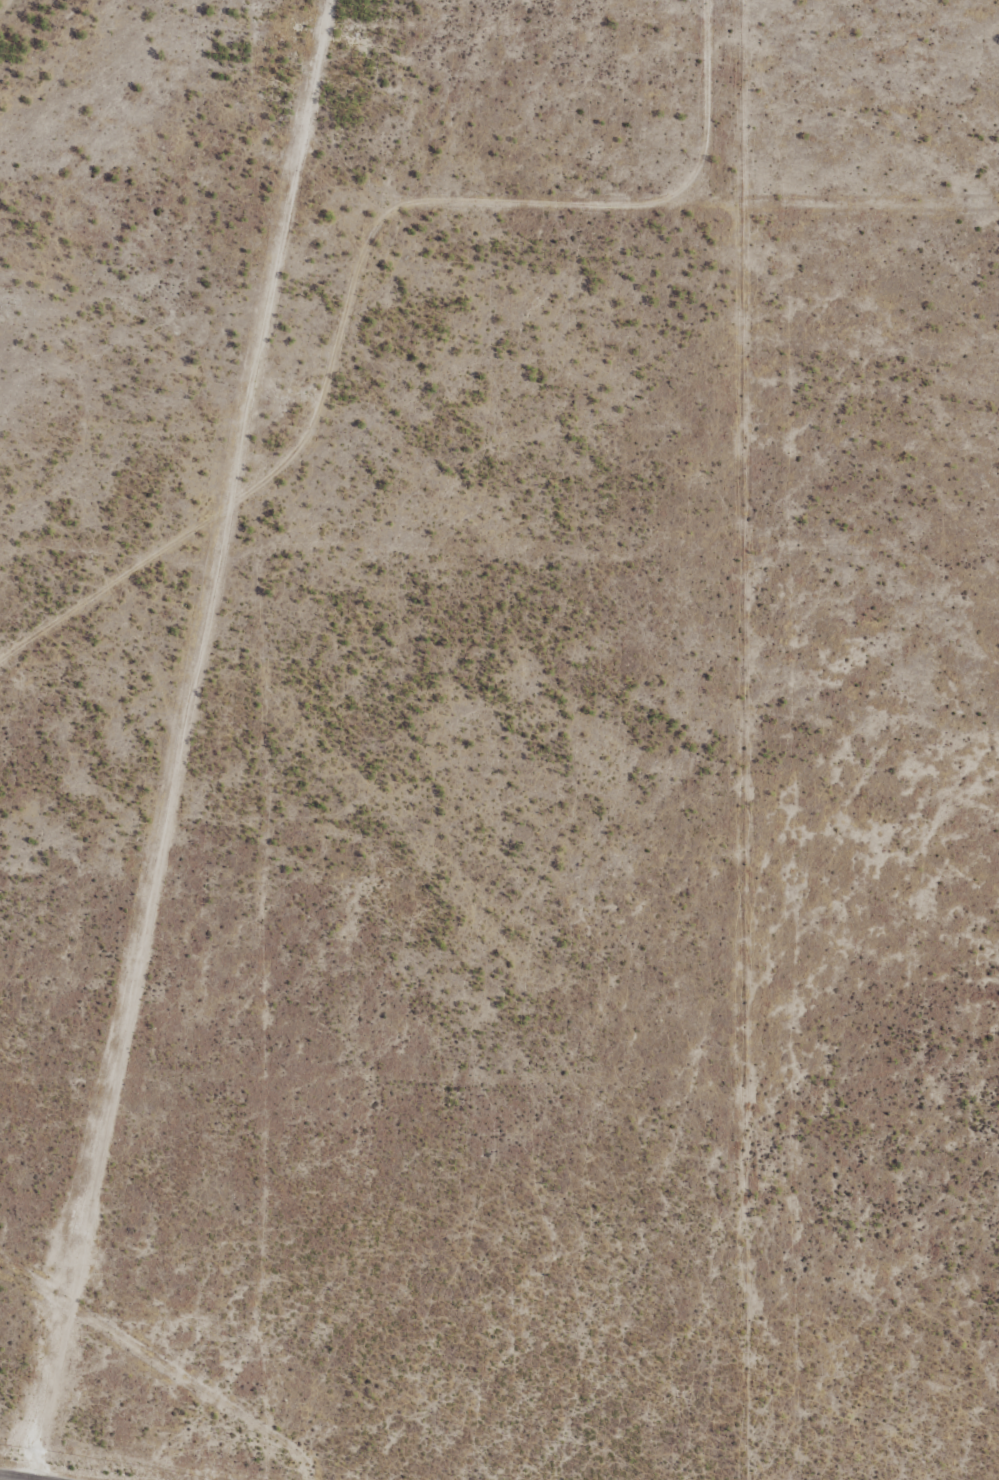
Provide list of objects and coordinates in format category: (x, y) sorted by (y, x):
road: (368, 292)
road: (48, 1472)

